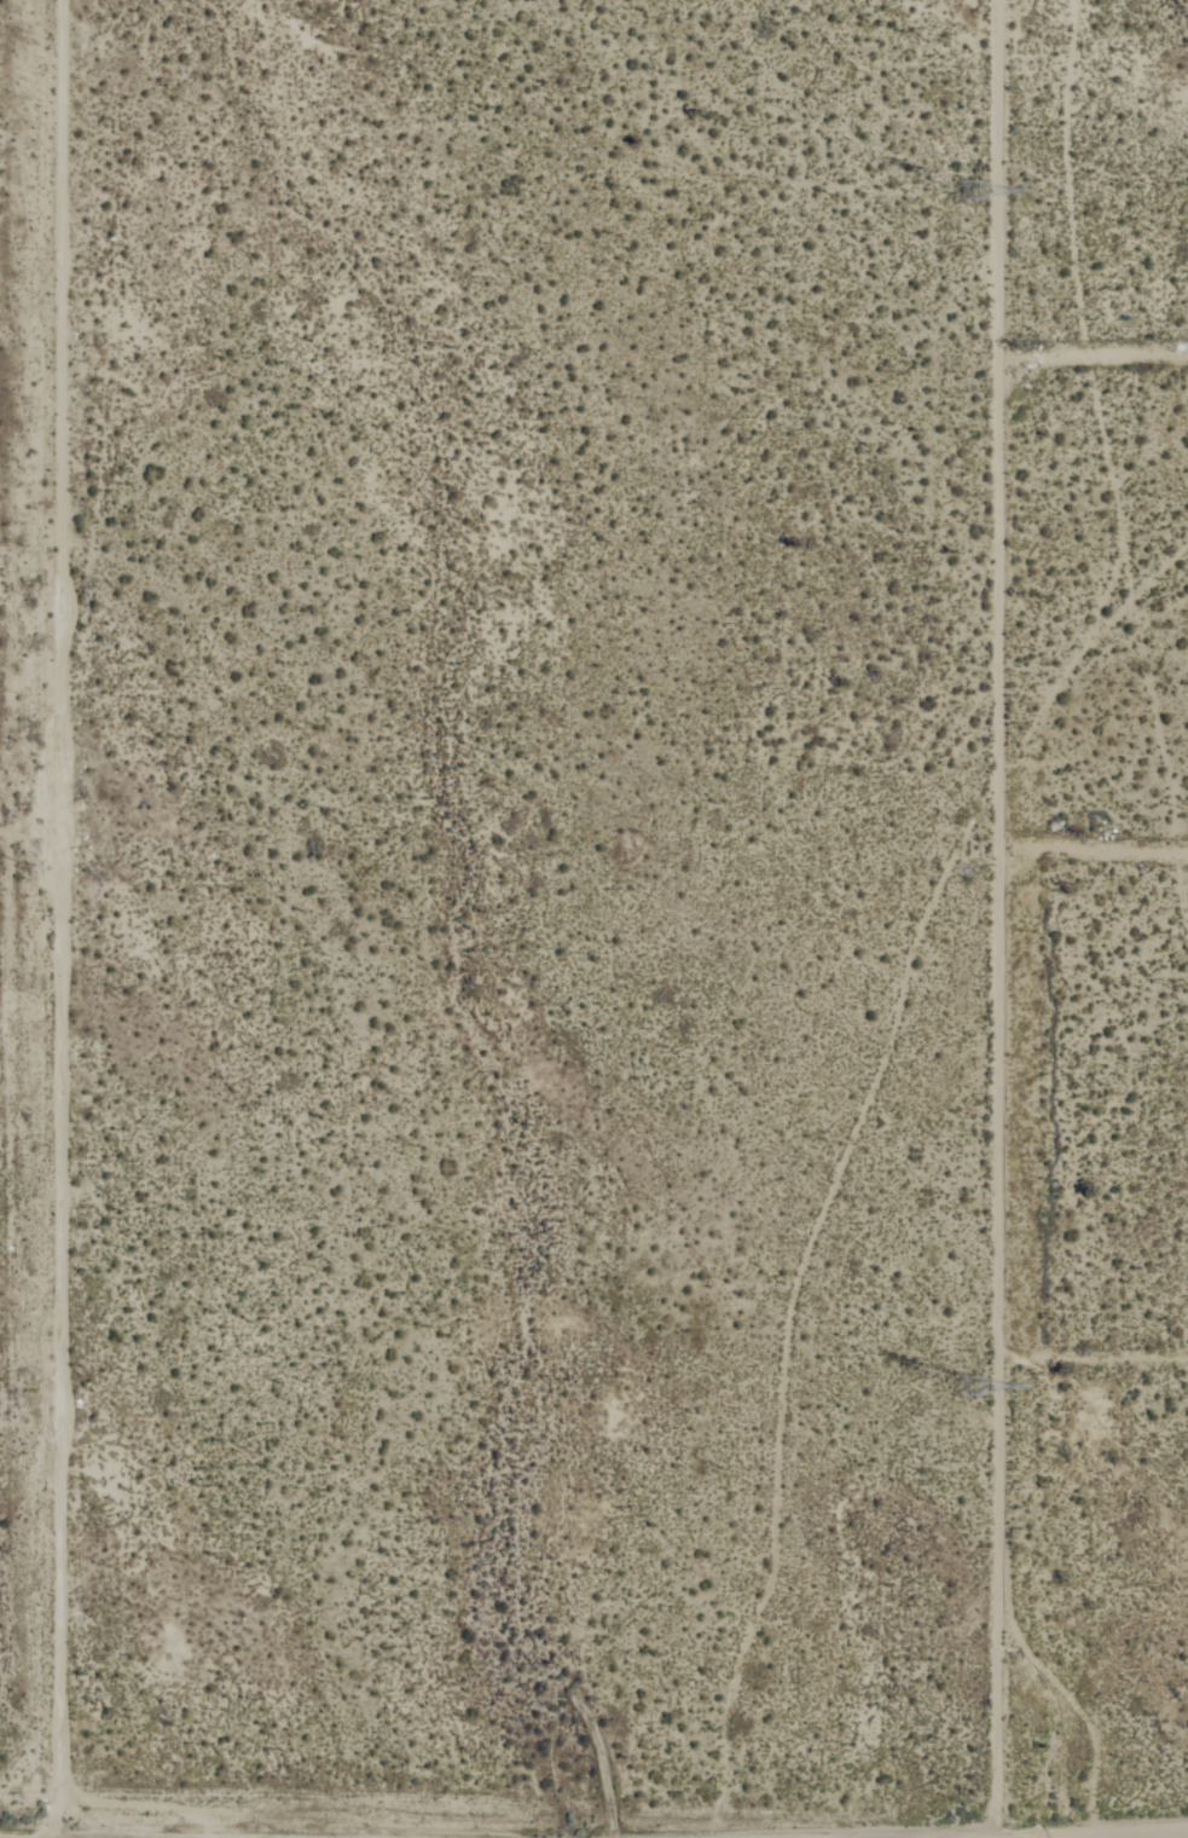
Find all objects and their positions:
power tower: (968, 186)
road: (1080, 429)
road: (968, 919)
road: (1078, 924)
power tower: (980, 1392)
road: (1078, 1421)

